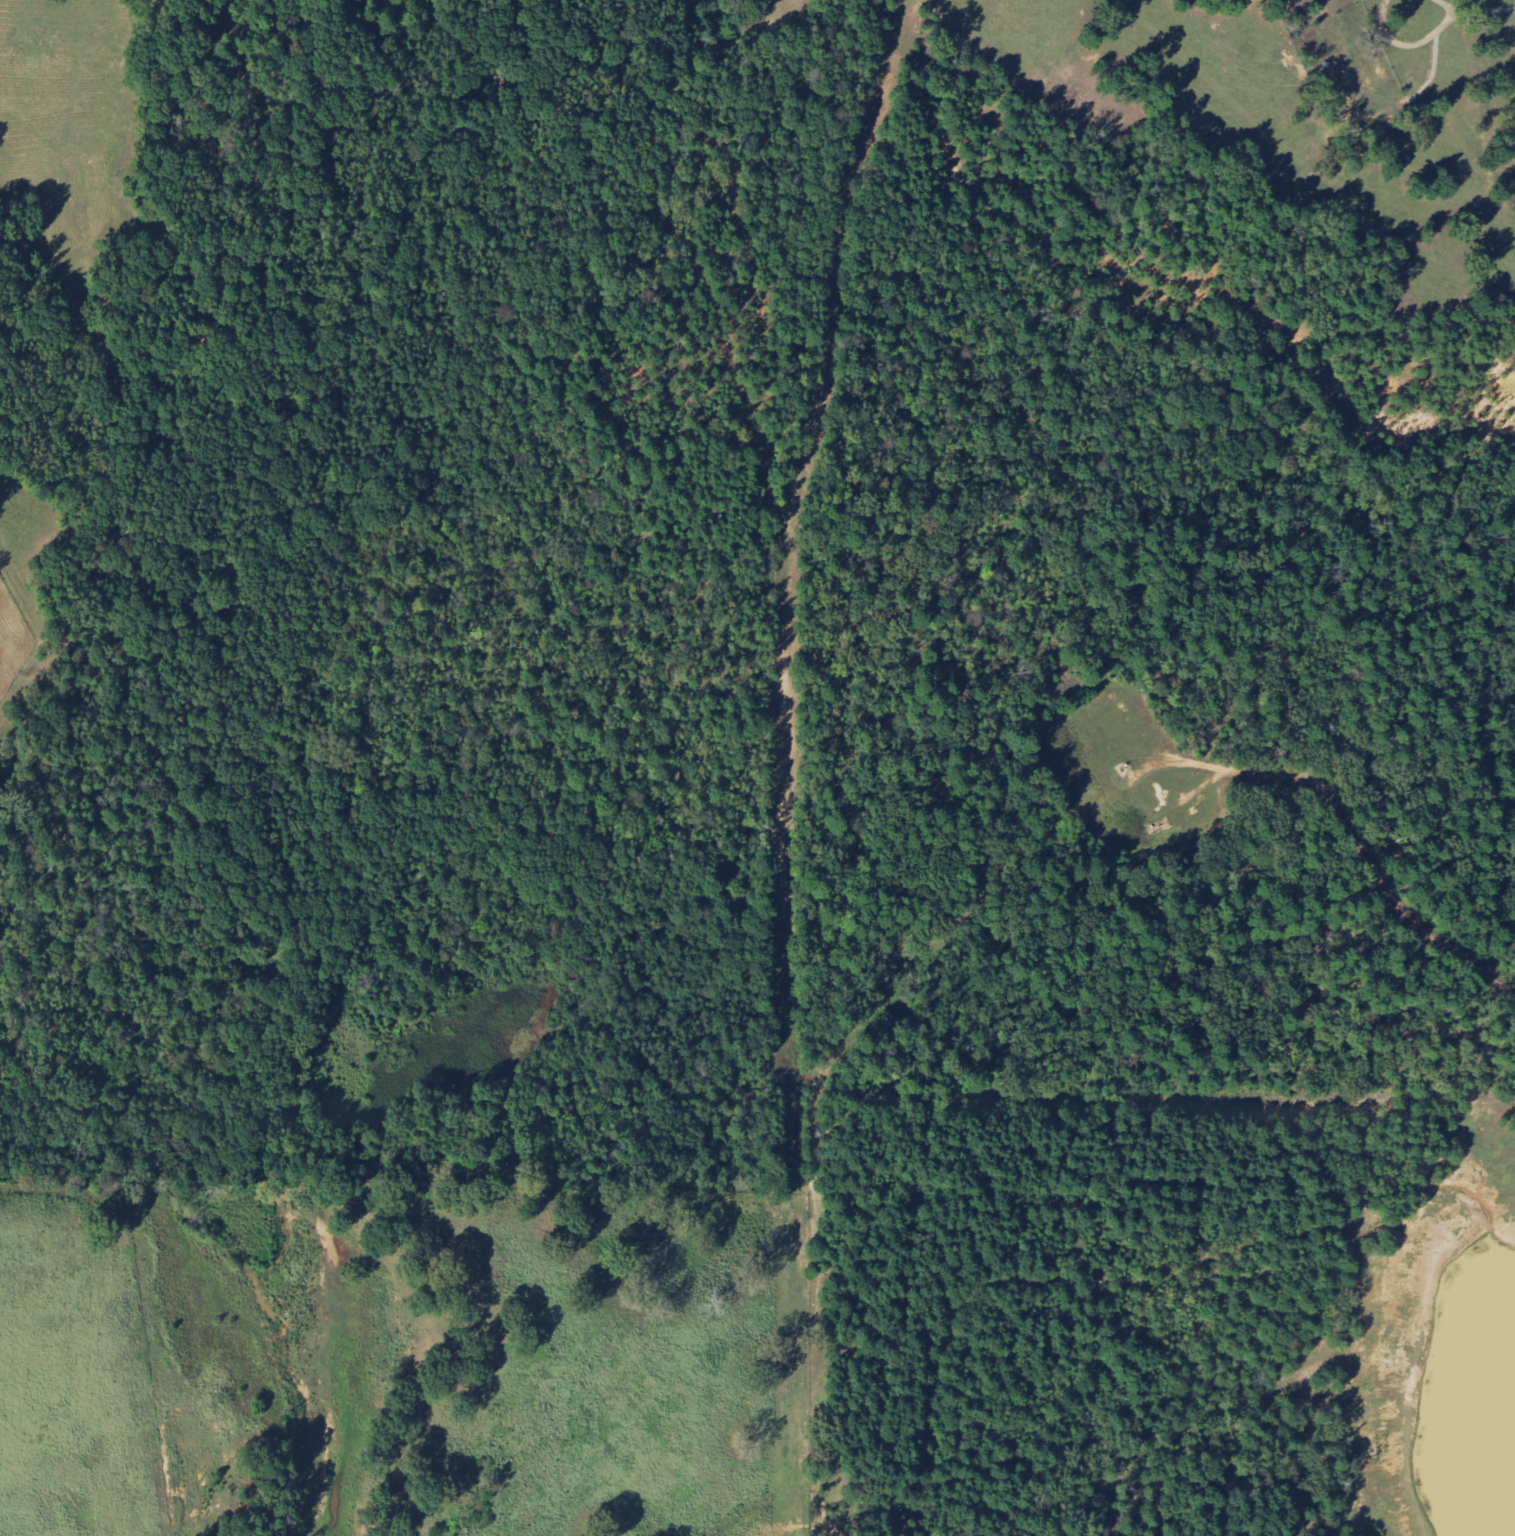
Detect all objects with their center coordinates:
road: (1479, 10)

